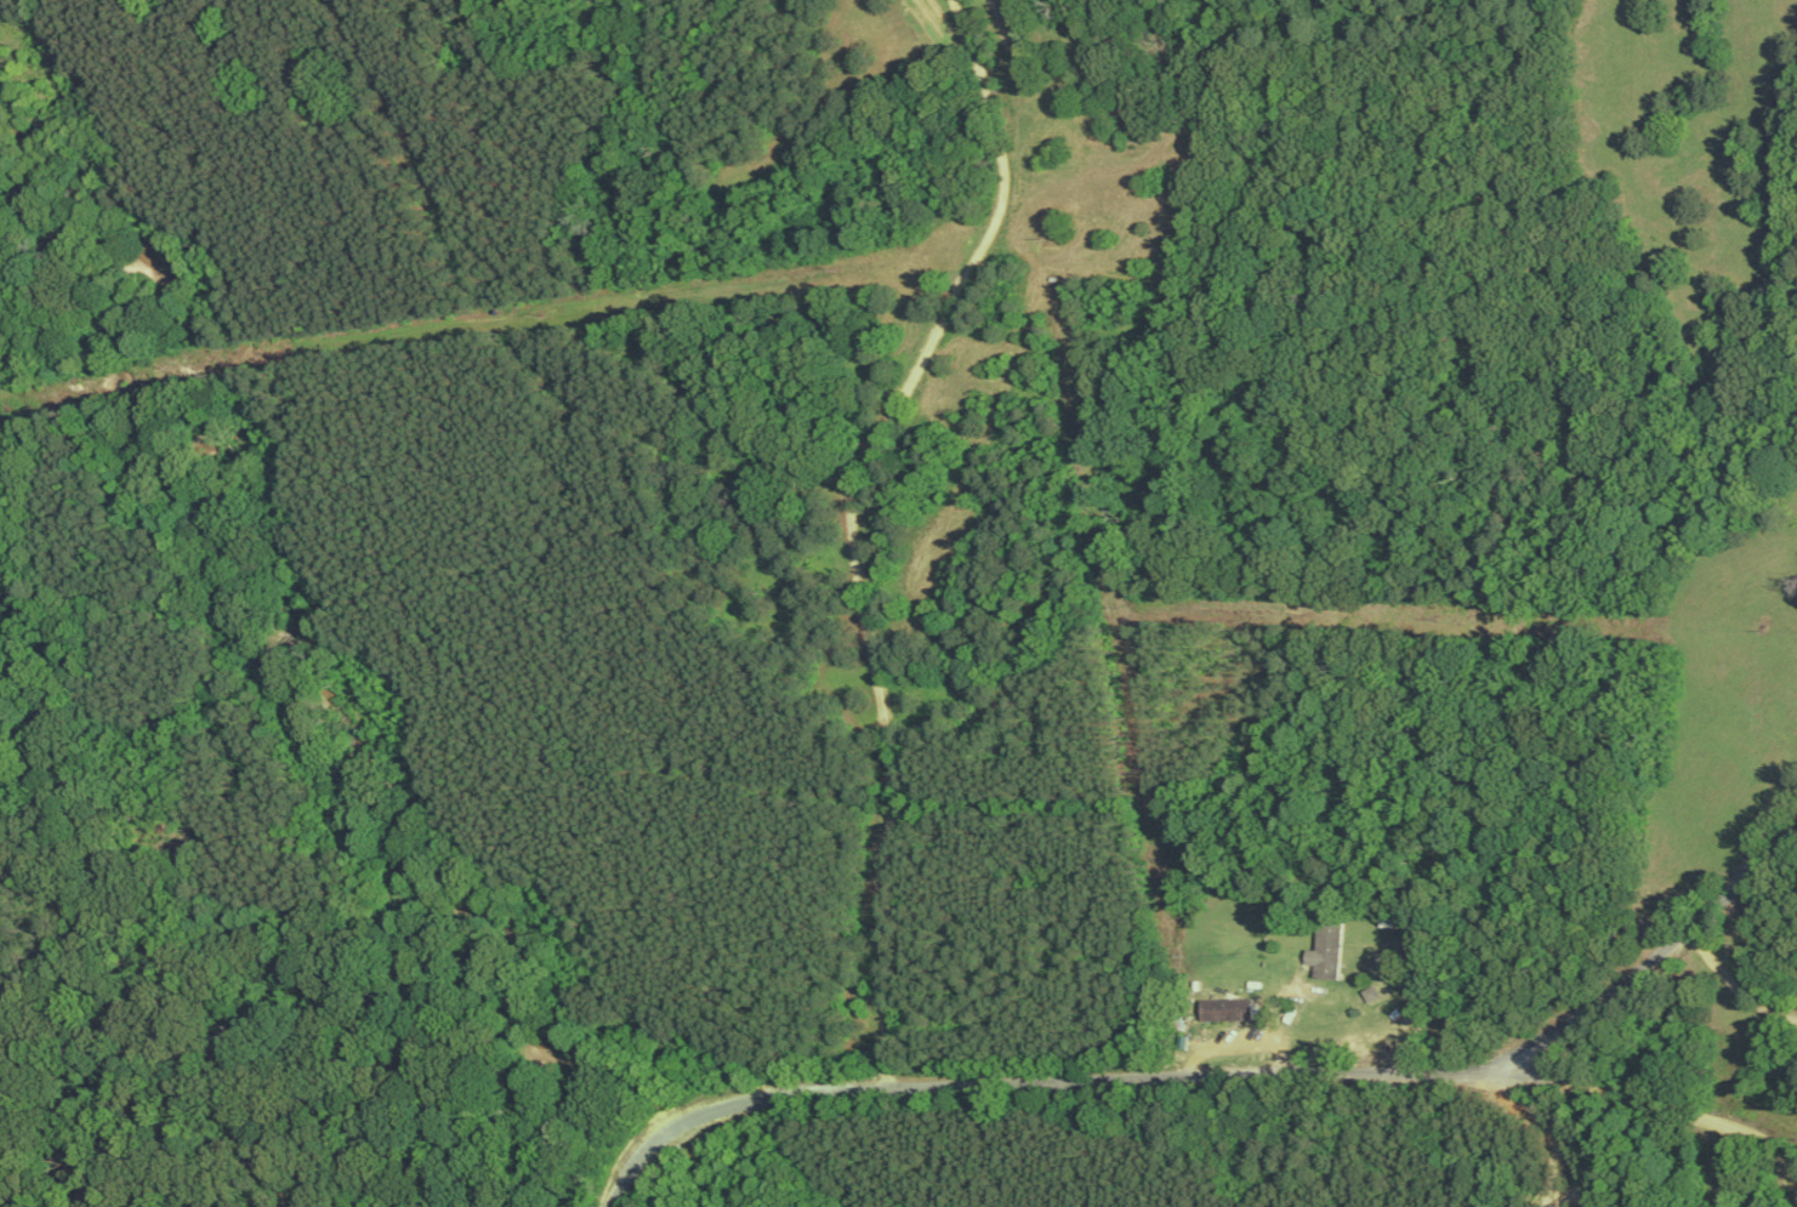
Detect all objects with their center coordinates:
road: (855, 553)
building: (1327, 949)
road: (1660, 974)
building: (1229, 1008)
road: (1670, 1099)
road: (1028, 1100)

